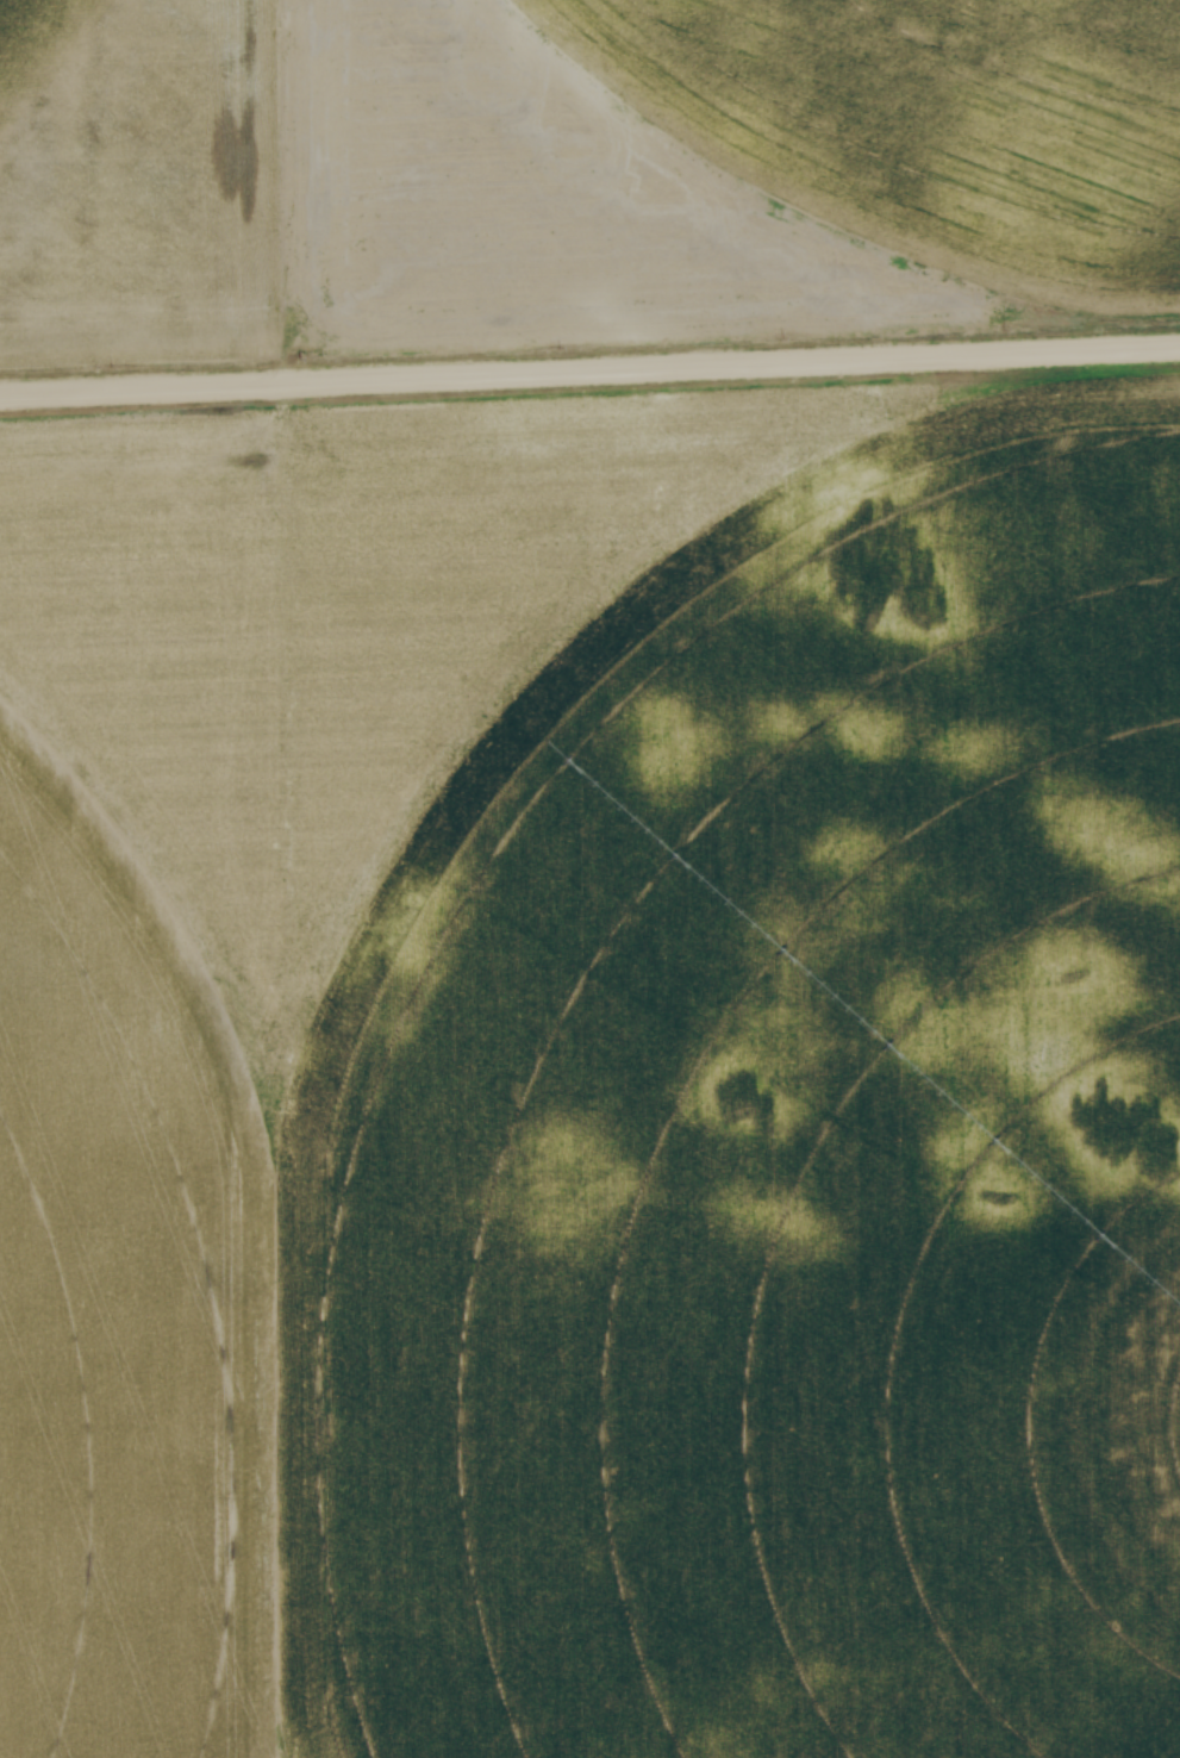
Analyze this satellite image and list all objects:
road: (589, 373)

